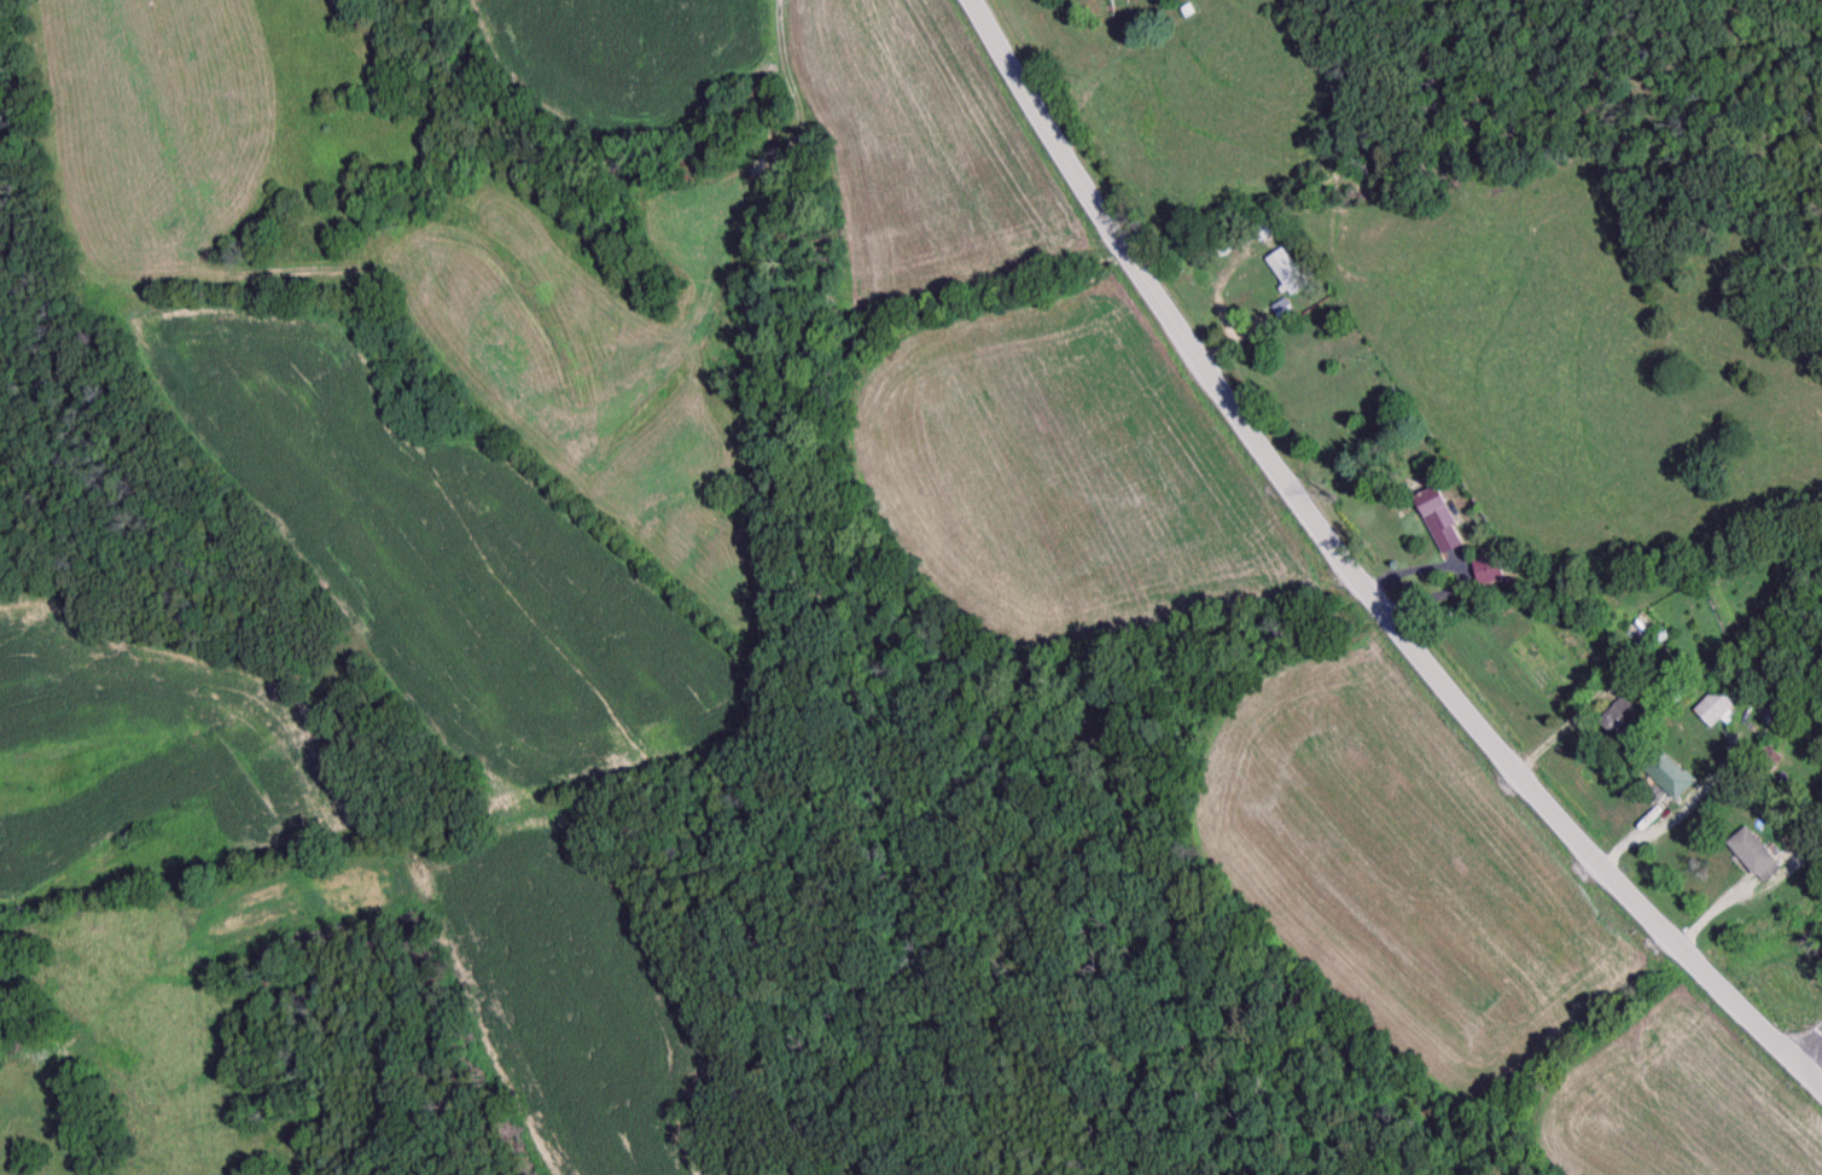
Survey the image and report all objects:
building: (1265, 228)
building: (1283, 271)
building: (1439, 522)
road: (1321, 577)
building: (1637, 629)
building: (1716, 705)
building: (1623, 723)
building: (1669, 775)
building: (1756, 856)
road: (1810, 1052)
road: (1810, 1078)

